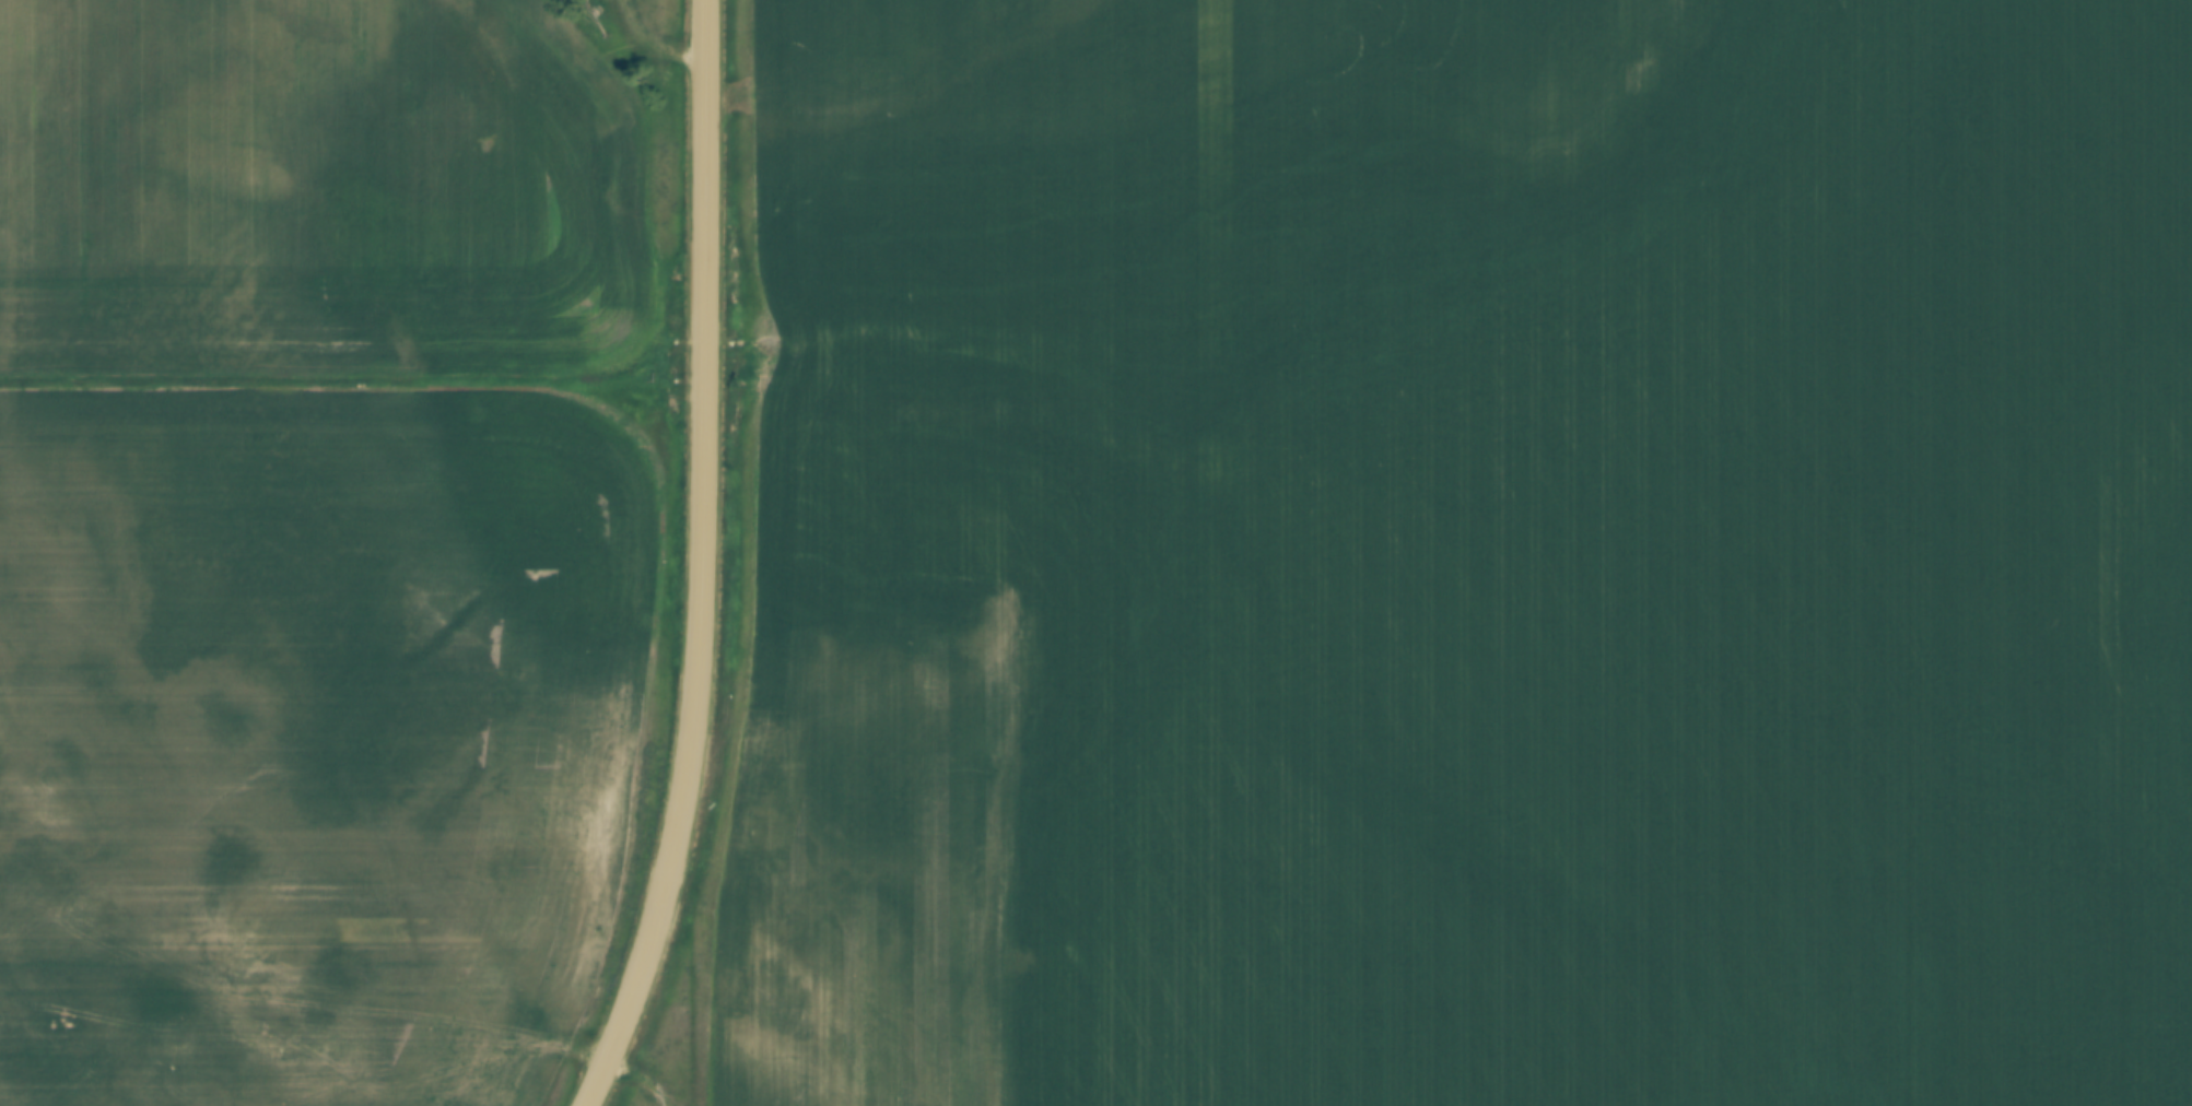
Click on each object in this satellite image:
road: (653, 43)
road: (700, 562)

